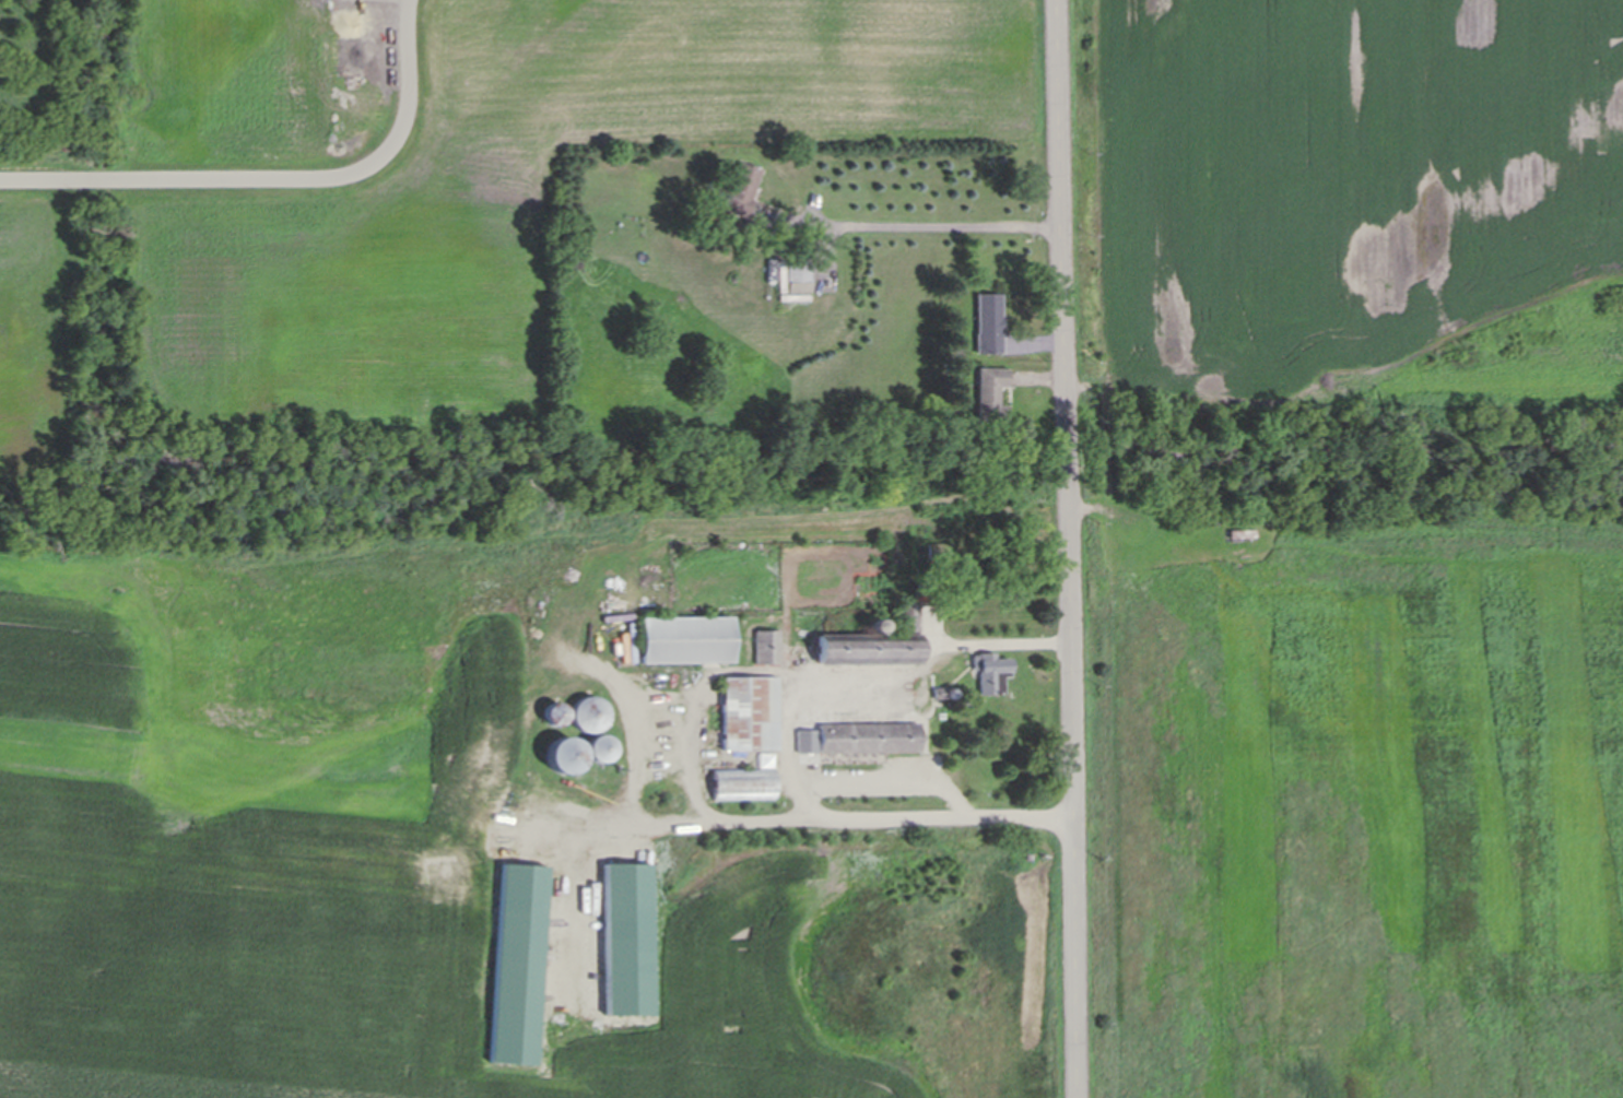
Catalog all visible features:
road: (279, 180)
building: (741, 190)
road: (949, 226)
building: (796, 281)
building: (997, 329)
building: (990, 394)
road: (1073, 548)
building: (686, 640)
building: (873, 648)
building: (768, 650)
building: (991, 674)
building: (590, 715)
building: (751, 715)
building: (860, 739)
road: (793, 745)
building: (600, 749)
building: (564, 756)
building: (746, 782)
road: (699, 800)
building: (628, 940)
building: (519, 965)

